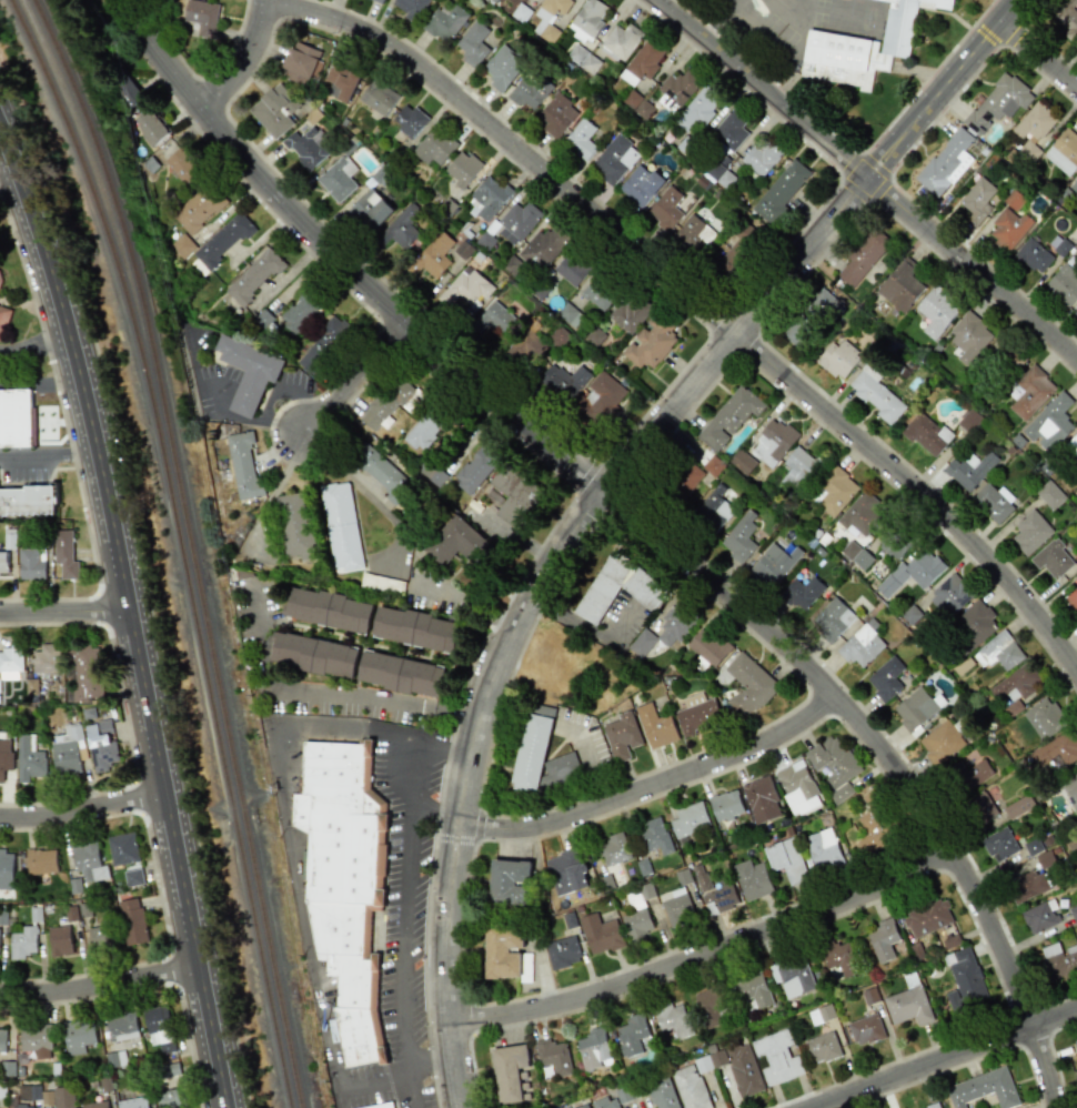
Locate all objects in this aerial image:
building: (379, 1)
building: (555, 6)
building: (409, 7)
building: (202, 16)
building: (590, 17)
building: (1066, 17)
building: (444, 22)
building: (548, 32)
building: (578, 33)
building: (621, 41)
building: (473, 43)
building: (865, 46)
road: (1039, 56)
building: (584, 59)
building: (645, 60)
building: (301, 61)
road: (245, 63)
building: (502, 67)
building: (628, 78)
building: (341, 80)
building: (676, 88)
building: (125, 90)
building: (529, 92)
building: (378, 97)
building: (998, 101)
building: (273, 109)
building: (697, 110)
building: (556, 115)
building: (409, 120)
building: (1035, 124)
building: (150, 127)
building: (729, 129)
building: (581, 138)
road: (842, 143)
building: (433, 145)
building: (308, 147)
building: (1064, 151)
building: (761, 157)
building: (614, 159)
building: (945, 162)
building: (181, 164)
building: (462, 169)
building: (721, 175)
building: (338, 179)
road: (868, 180)
building: (640, 185)
building: (1075, 185)
building: (781, 190)
building: (486, 197)
building: (976, 200)
building: (665, 208)
building: (199, 209)
building: (369, 209)
building: (516, 222)
building: (401, 226)
building: (1008, 229)
building: (694, 233)
building: (223, 239)
building: (182, 245)
building: (543, 245)
road: (813, 246)
building: (737, 249)
building: (433, 255)
building: (1034, 255)
building: (863, 258)
road: (341, 263)
building: (571, 269)
building: (254, 275)
building: (1064, 283)
building: (900, 285)
building: (465, 290)
building: (597, 293)
road: (695, 305)
building: (936, 311)
building: (299, 312)
building: (628, 312)
building: (1075, 312)
building: (811, 318)
building: (493, 319)
building: (3, 322)
building: (968, 335)
building: (557, 336)
building: (650, 342)
road: (32, 344)
building: (323, 344)
building: (524, 347)
building: (838, 359)
building: (249, 372)
road: (355, 380)
building: (562, 380)
road: (40, 381)
building: (1030, 392)
building: (876, 393)
building: (602, 395)
building: (391, 401)
building: (729, 416)
building: (14, 417)
building: (969, 421)
road: (248, 422)
building: (1050, 422)
building: (426, 424)
building: (926, 433)
building: (772, 442)
building: (1073, 445)
road: (49, 454)
building: (743, 462)
building: (243, 463)
building: (425, 464)
building: (713, 465)
building: (798, 467)
building: (474, 469)
building: (969, 469)
building: (381, 470)
building: (690, 477)
building: (833, 491)
road: (364, 494)
building: (515, 494)
building: (1049, 494)
building: (27, 501)
building: (994, 502)
building: (715, 507)
building: (860, 515)
building: (294, 523)
building: (341, 524)
building: (1030, 532)
building: (739, 536)
building: (9, 538)
building: (457, 541)
railway: (184, 544)
railway: (194, 546)
building: (893, 546)
railway: (219, 547)
building: (64, 554)
building: (857, 555)
building: (1051, 558)
building: (773, 563)
building: (3, 564)
building: (31, 564)
building: (912, 572)
building: (382, 582)
building: (617, 587)
building: (802, 592)
building: (950, 595)
building: (1073, 600)
building: (329, 606)
road: (467, 606)
road: (62, 608)
building: (677, 618)
building: (833, 618)
road: (128, 621)
parking lot: (621, 621)
building: (975, 623)
building: (416, 626)
road: (587, 628)
building: (642, 642)
building: (860, 646)
building: (709, 647)
building: (998, 652)
building: (314, 654)
building: (47, 658)
building: (10, 664)
building: (84, 673)
building: (400, 673)
building: (887, 678)
building: (748, 684)
building: (1018, 684)
building: (31, 686)
road: (328, 695)
building: (915, 708)
building: (698, 715)
building: (1044, 717)
road: (338, 725)
building: (655, 726)
building: (622, 736)
building: (940, 742)
parking lot: (585, 744)
building: (101, 745)
building: (533, 748)
building: (67, 749)
building: (1055, 751)
building: (4, 757)
building: (29, 758)
road: (887, 758)
building: (833, 762)
building: (560, 773)
building: (970, 778)
building: (797, 779)
road: (657, 783)
road: (481, 784)
road: (473, 786)
building: (1070, 787)
building: (841, 793)
road: (531, 795)
building: (761, 799)
building: (725, 804)
building: (1018, 806)
road: (83, 807)
building: (982, 807)
building: (690, 819)
building: (877, 823)
road: (479, 826)
building: (654, 834)
road: (455, 839)
building: (999, 844)
building: (1033, 846)
building: (123, 848)
building: (614, 848)
building: (823, 849)
building: (786, 859)
building: (41, 862)
building: (88, 863)
building: (6, 869)
building: (565, 872)
building: (133, 877)
building: (752, 879)
building: (510, 880)
building: (344, 885)
building: (1027, 885)
building: (722, 895)
building: (678, 910)
building: (1074, 914)
building: (1039, 916)
building: (927, 918)
building: (132, 921)
building: (637, 924)
building: (600, 933)
building: (101, 937)
building: (882, 939)
building: (60, 940)
building: (22, 943)
building: (503, 950)
building: (563, 951)
road: (701, 953)
building: (839, 957)
building: (1059, 960)
building: (792, 975)
building: (964, 978)
building: (754, 988)
road: (101, 989)
building: (711, 1005)
building: (907, 1005)
building: (821, 1014)
building: (673, 1019)
building: (121, 1027)
building: (159, 1029)
building: (866, 1029)
building: (632, 1034)
building: (78, 1036)
building: (2, 1039)
building: (37, 1039)
building: (1076, 1041)
building: (822, 1047)
building: (593, 1049)
building: (553, 1056)
building: (776, 1057)
road: (946, 1058)
building: (114, 1059)
building: (711, 1061)
road: (400, 1066)
building: (743, 1069)
building: (171, 1070)
building: (510, 1072)
road: (411, 1086)
building: (690, 1087)
building: (983, 1089)
building: (28, 1092)
building: (663, 1094)
building: (624, 1095)
building: (63, 1097)
building: (171, 1098)
building: (132, 1102)
building: (605, 1102)
building: (95, 1105)
building: (21, 1106)
building: (381, 1106)
building: (932, 1106)
building: (584, 1107)

